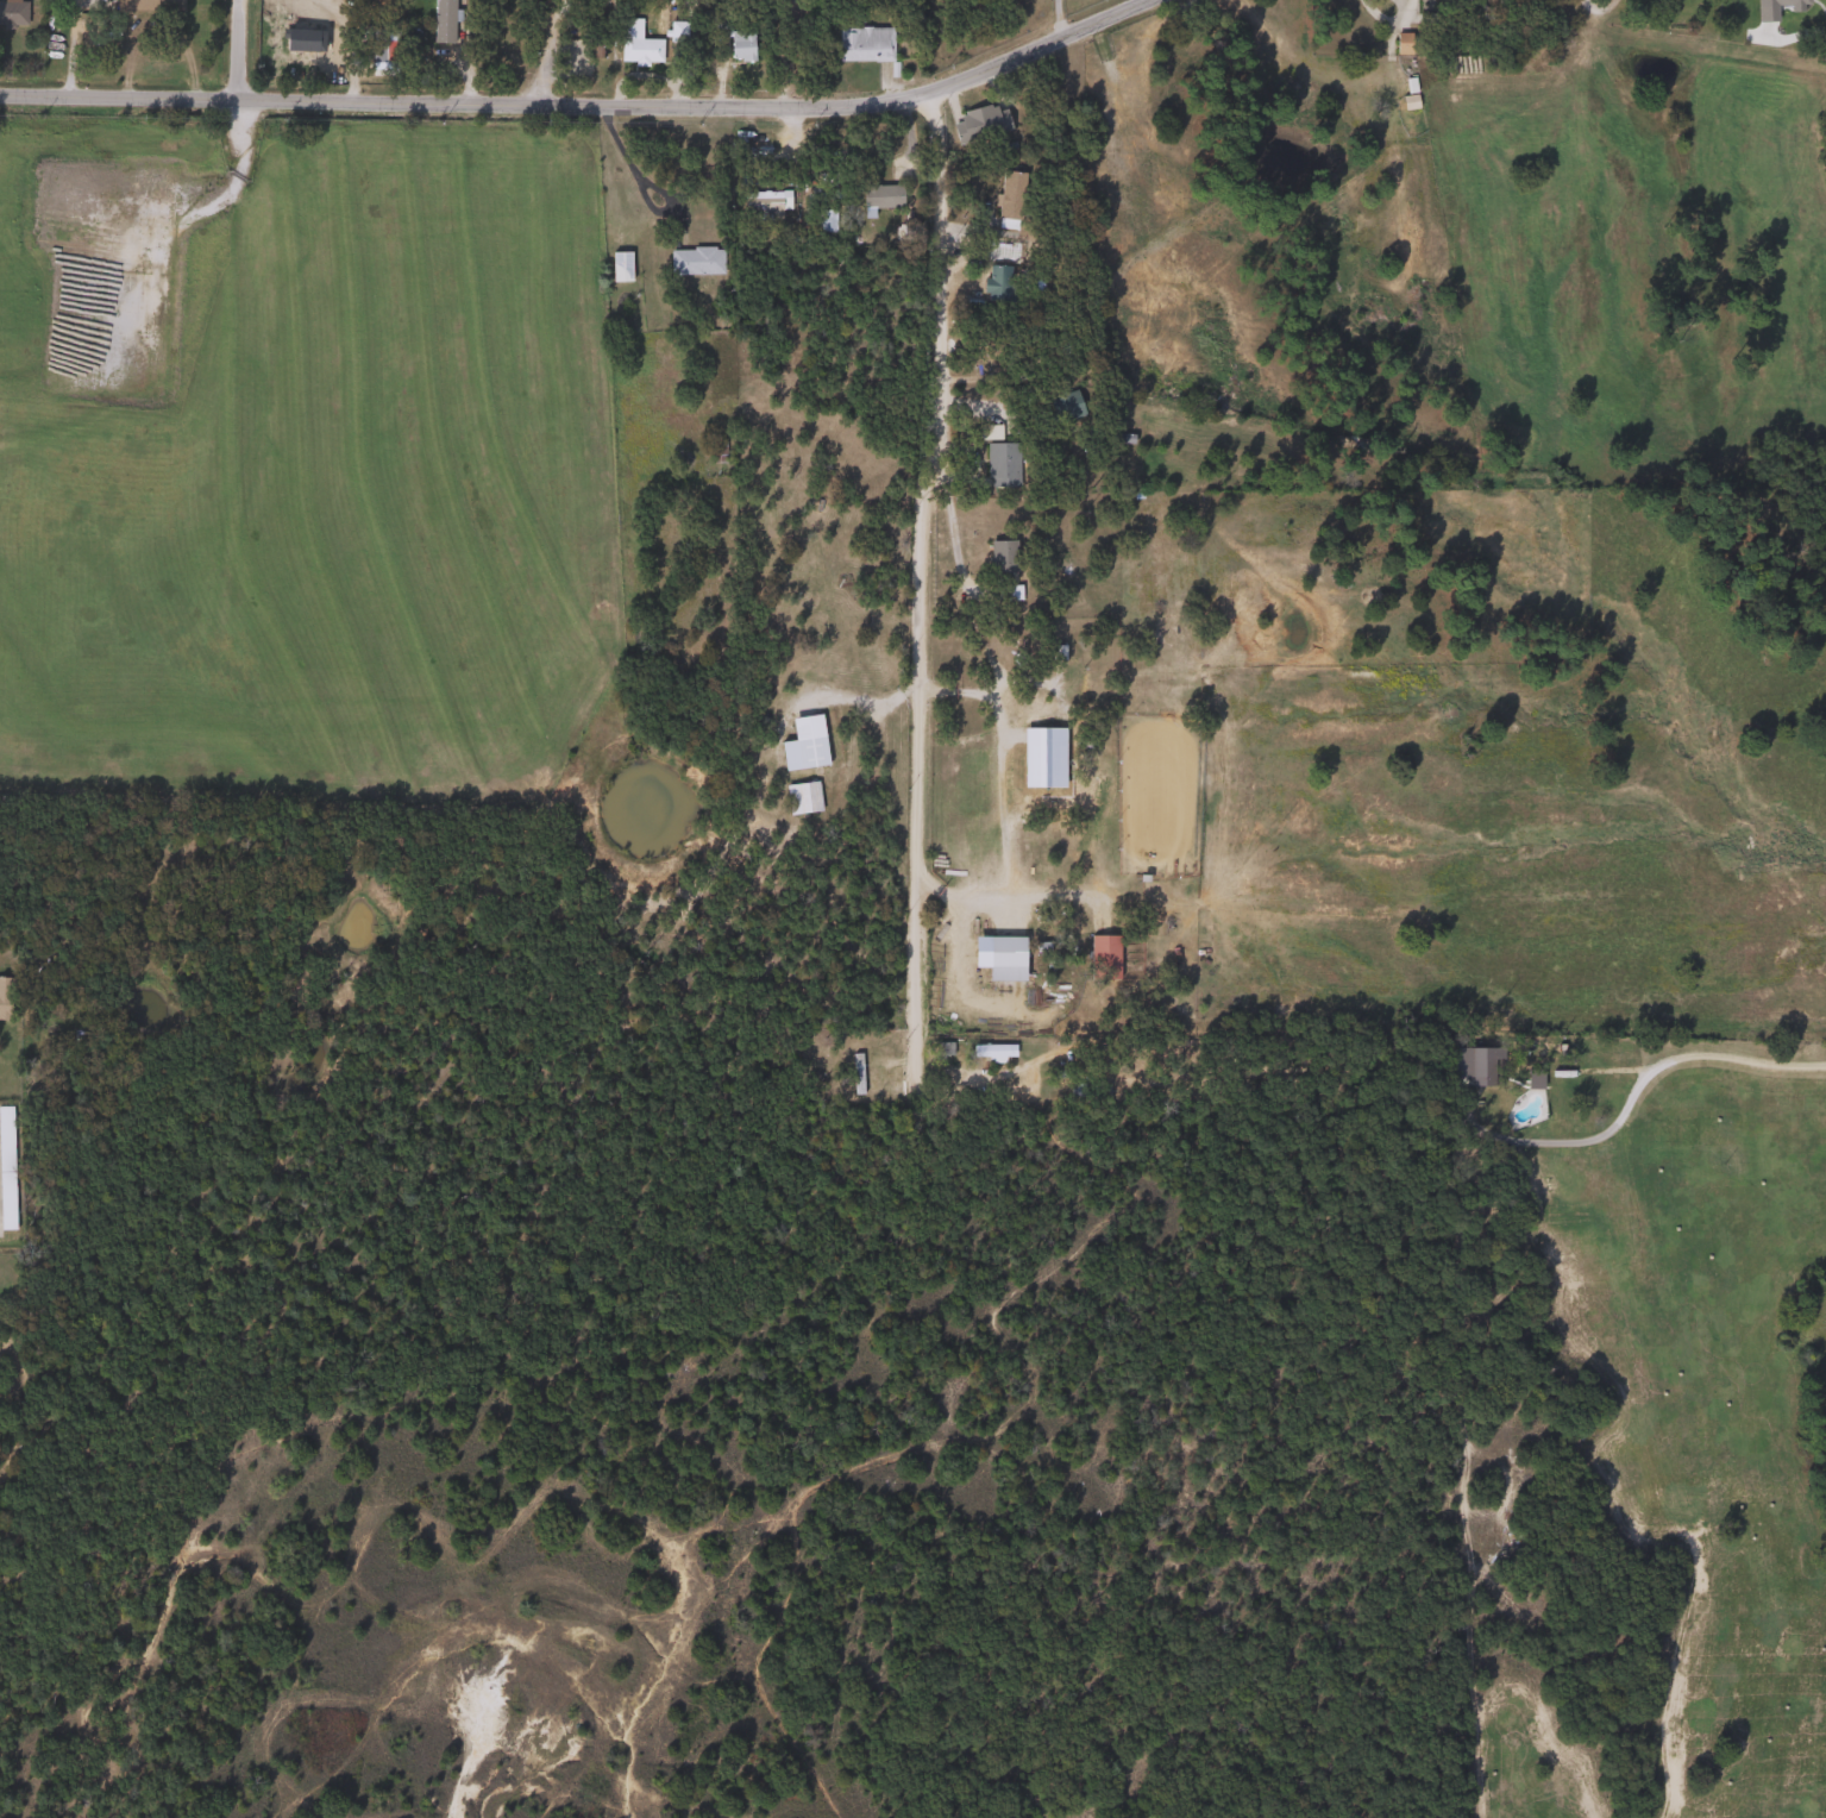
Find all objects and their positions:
building: (149, 6)
building: (12, 13)
building: (440, 21)
building: (635, 43)
building: (862, 43)
building: (1401, 43)
building: (739, 45)
road: (69, 46)
building: (381, 49)
road: (237, 51)
road: (590, 109)
building: (977, 124)
road: (628, 171)
building: (880, 195)
building: (1008, 199)
building: (760, 202)
building: (998, 251)
building: (694, 261)
building: (617, 265)
building: (994, 283)
building: (1062, 406)
building: (986, 432)
building: (713, 451)
building: (999, 464)
road: (948, 513)
building: (1000, 557)
road: (921, 612)
road: (980, 691)
building: (1034, 713)
building: (802, 744)
building: (798, 797)
road: (1010, 895)
building: (1102, 957)
building: (1004, 959)
road: (955, 973)
building: (5, 997)
building: (991, 1051)
road: (1676, 1057)
building: (5, 1158)
building: (8, 1366)

